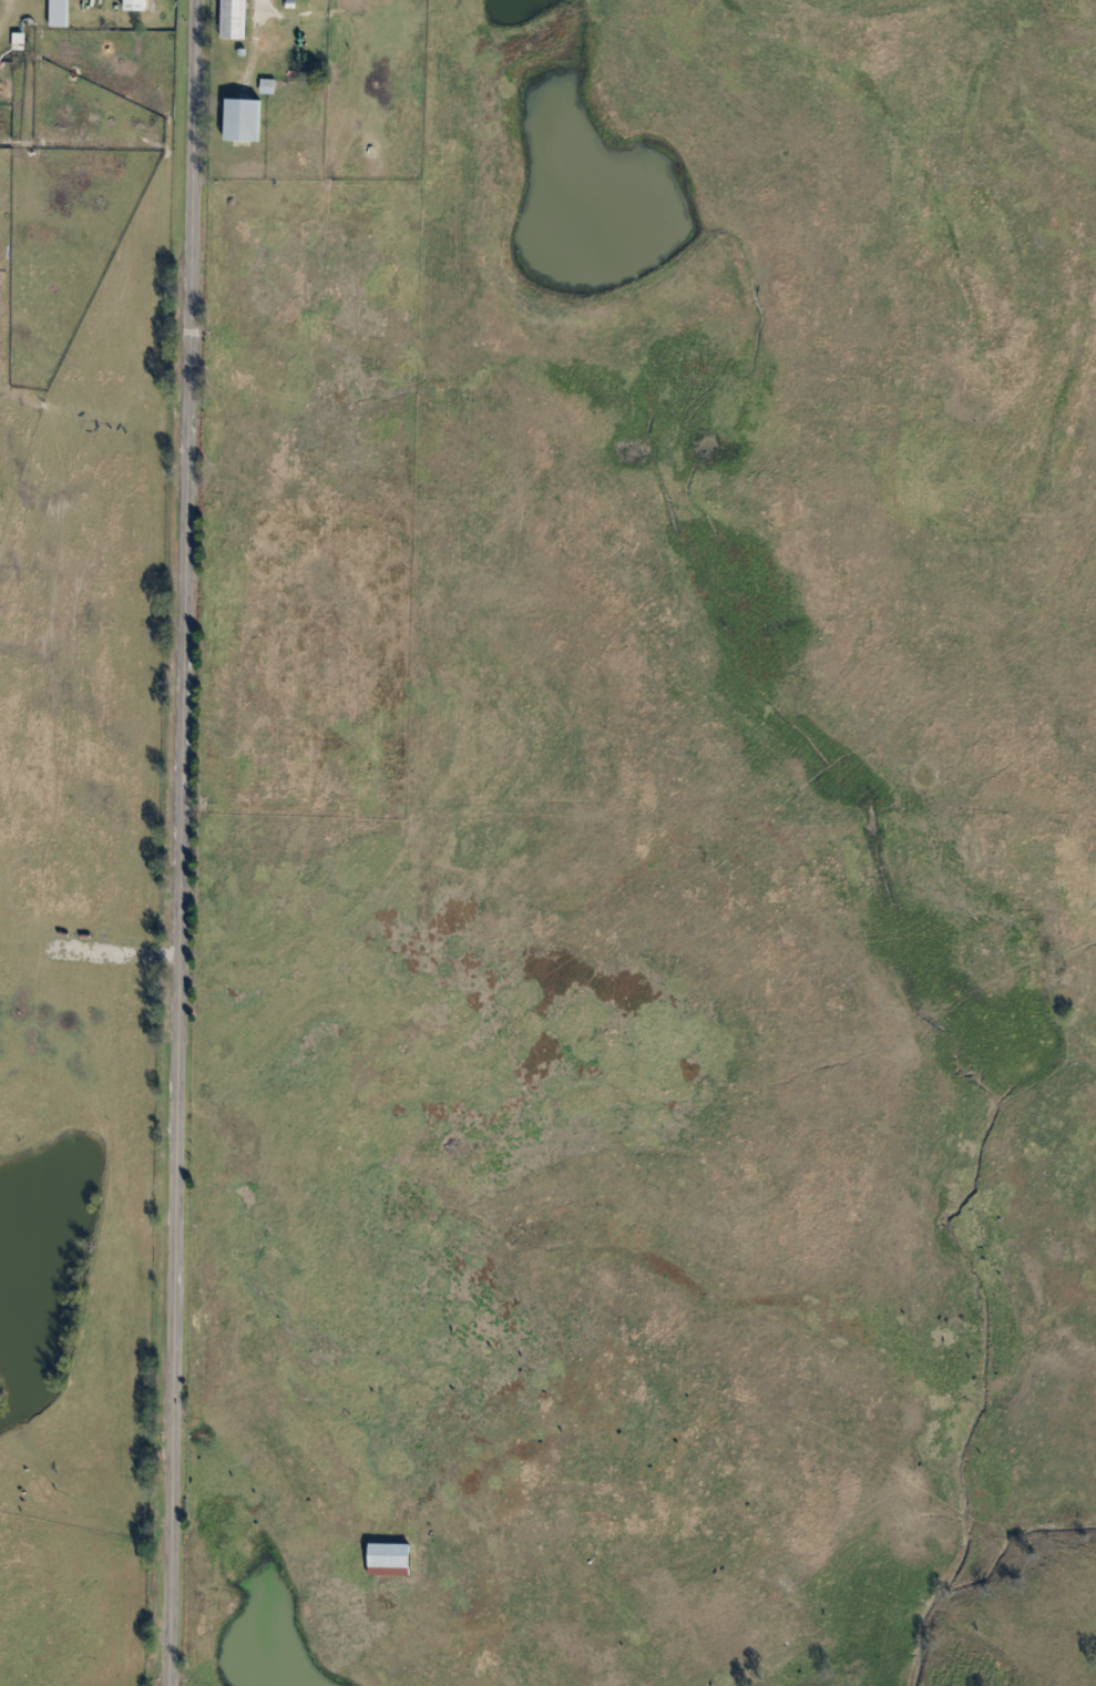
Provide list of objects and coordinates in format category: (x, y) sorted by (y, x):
building: (131, 4)
building: (57, 13)
building: (229, 19)
building: (237, 120)
road: (191, 842)
building: (383, 1559)

